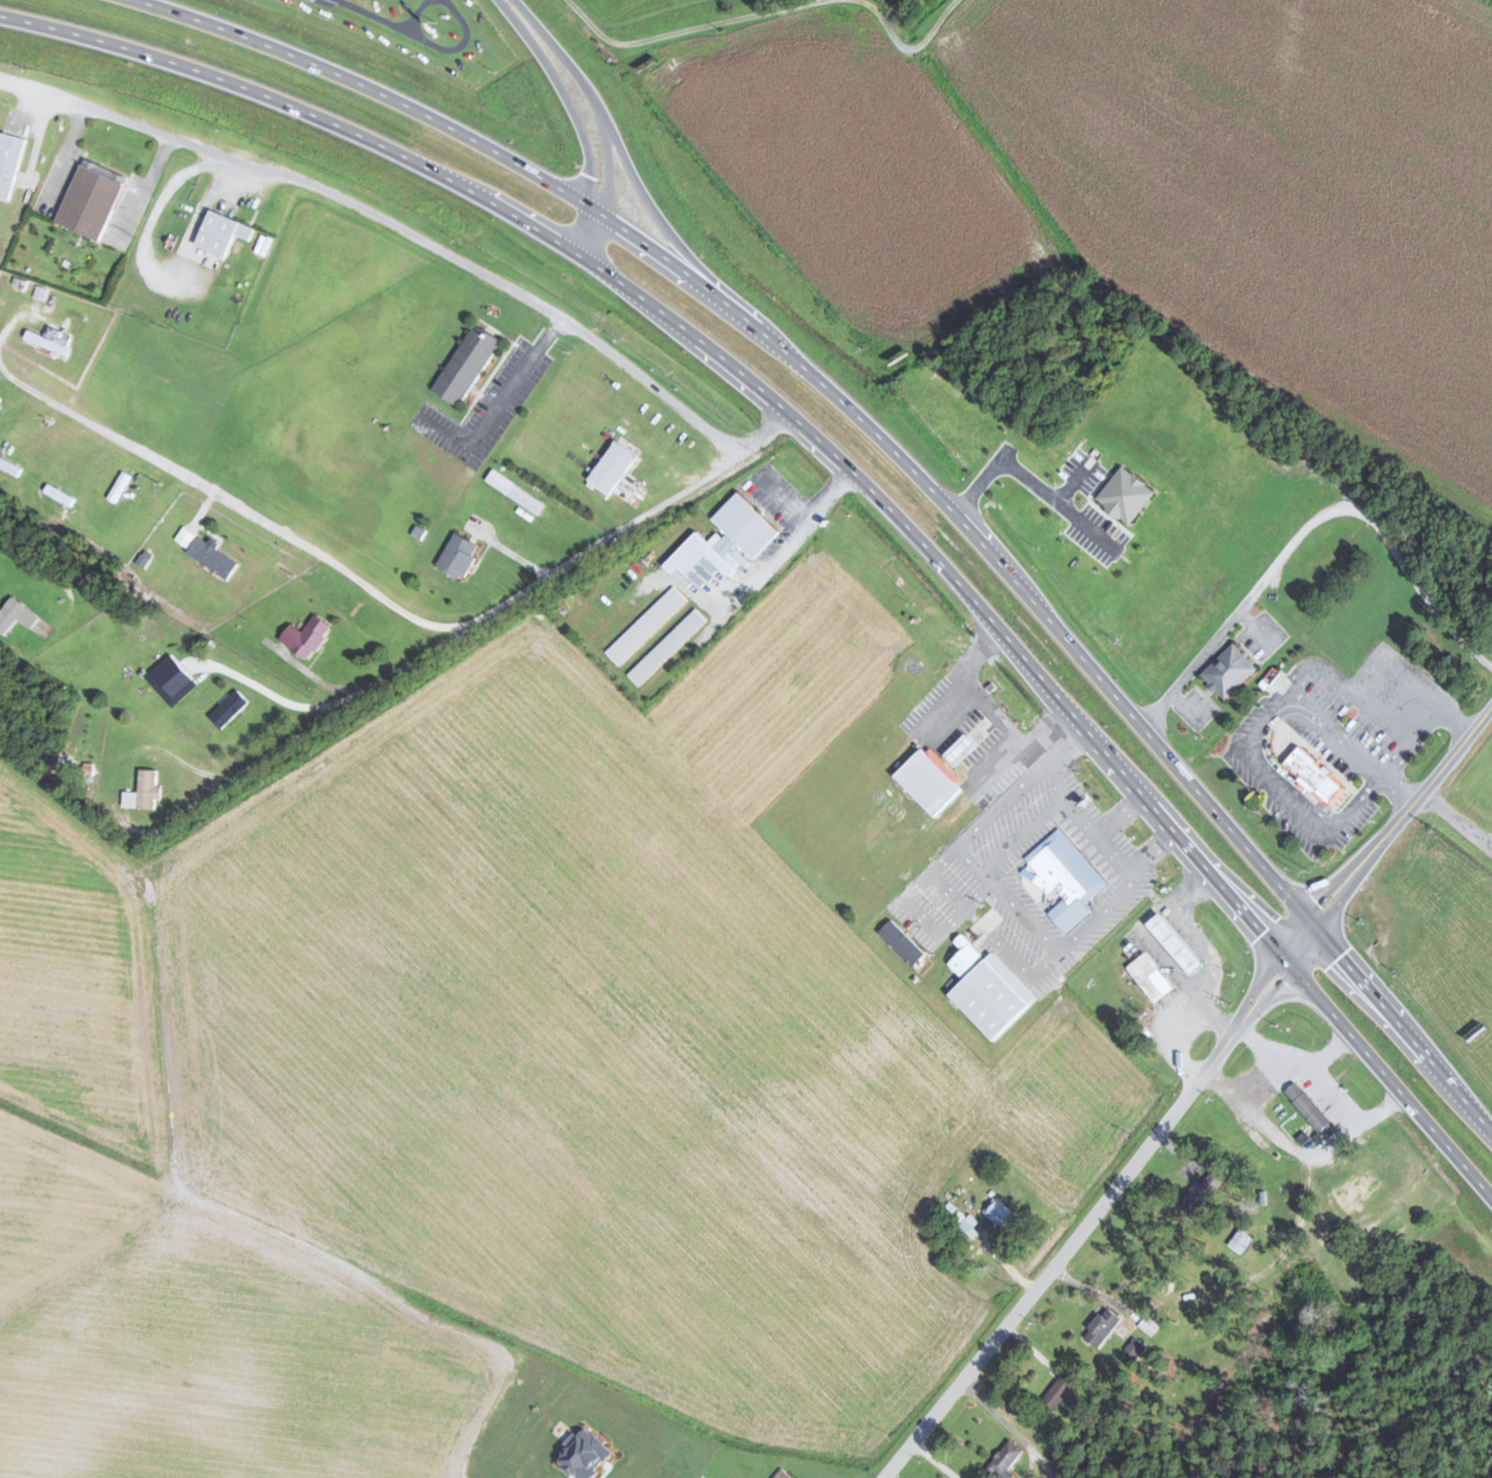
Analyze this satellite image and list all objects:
road: (372, 88)
road: (299, 109)
road: (588, 114)
building: (9, 162)
road: (625, 171)
building: (92, 203)
road: (390, 221)
building: (224, 232)
building: (50, 339)
building: (468, 363)
road: (495, 405)
building: (10, 466)
building: (615, 467)
road: (1073, 479)
road: (1031, 484)
building: (118, 486)
building: (59, 494)
building: (1128, 494)
road: (229, 500)
building: (742, 527)
building: (459, 554)
building: (646, 624)
road: (460, 630)
building: (307, 636)
road: (1074, 636)
building: (667, 646)
building: (1230, 670)
building: (172, 679)
road: (1059, 698)
building: (229, 708)
building: (962, 748)
building: (1318, 775)
building: (931, 780)
building: (145, 791)
road: (1393, 839)
building: (1065, 877)
building: (936, 901)
building: (890, 924)
building: (1179, 943)
building: (1152, 976)
building: (991, 989)
building: (1307, 1106)
building: (1356, 1190)
building: (1202, 1192)
building: (1002, 1214)
road: (1086, 1221)
building: (1395, 1226)
building: (1149, 1323)
building: (1103, 1326)
building: (1062, 1389)
building: (1006, 1460)
building: (782, 1473)

